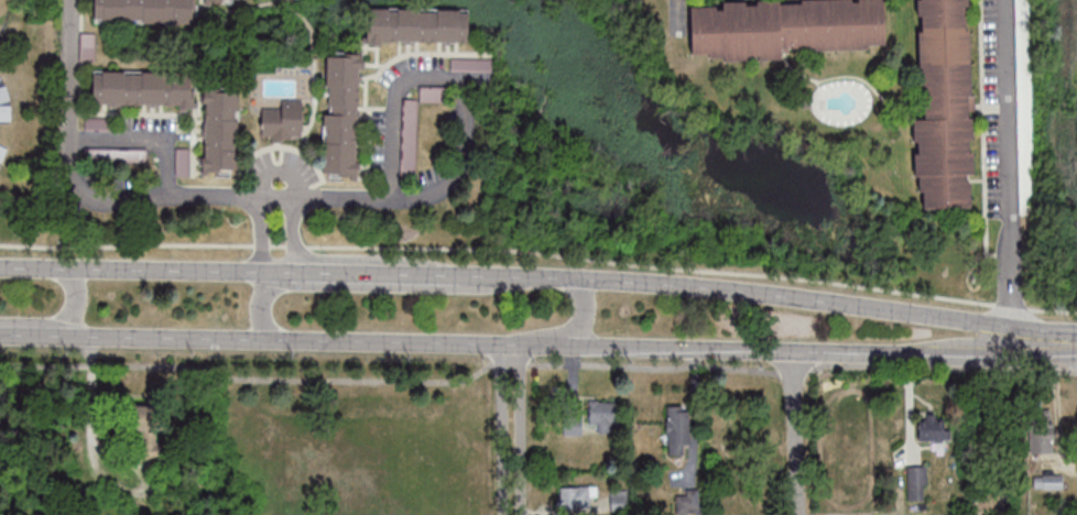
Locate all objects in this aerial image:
building: (224, 0)
building: (144, 11)
building: (417, 25)
building: (787, 25)
road: (453, 80)
building: (144, 88)
building: (944, 102)
building: (342, 117)
building: (283, 122)
building: (413, 131)
building: (221, 132)
road: (146, 138)
road: (1005, 165)
road: (139, 200)
road: (259, 235)
road: (294, 238)
road: (540, 253)
road: (538, 277)
road: (368, 287)
road: (66, 319)
road: (572, 332)
road: (535, 344)
road: (1074, 348)
road: (535, 363)
building: (606, 415)
building: (932, 427)
road: (511, 429)
building: (150, 430)
building: (677, 430)
building: (1041, 430)
road: (796, 432)
park: (244, 435)
building: (1048, 481)
building: (916, 482)
road: (115, 490)
building: (575, 498)
building: (618, 500)
building: (687, 501)

